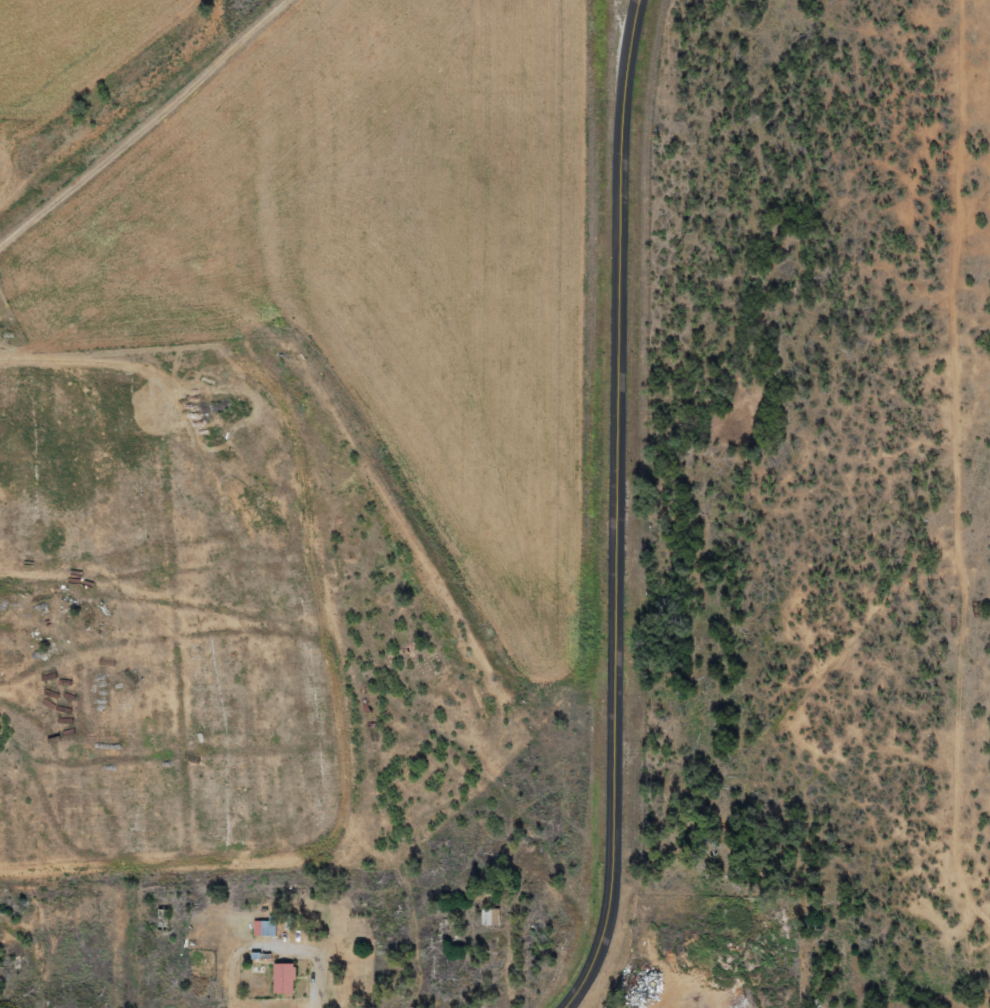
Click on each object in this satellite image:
road: (642, 3)
railway: (148, 123)
road: (621, 508)
road: (815, 685)
road: (690, 807)
building: (491, 918)
building: (267, 928)
road: (492, 956)
road: (328, 976)
building: (285, 979)
road: (516, 987)

